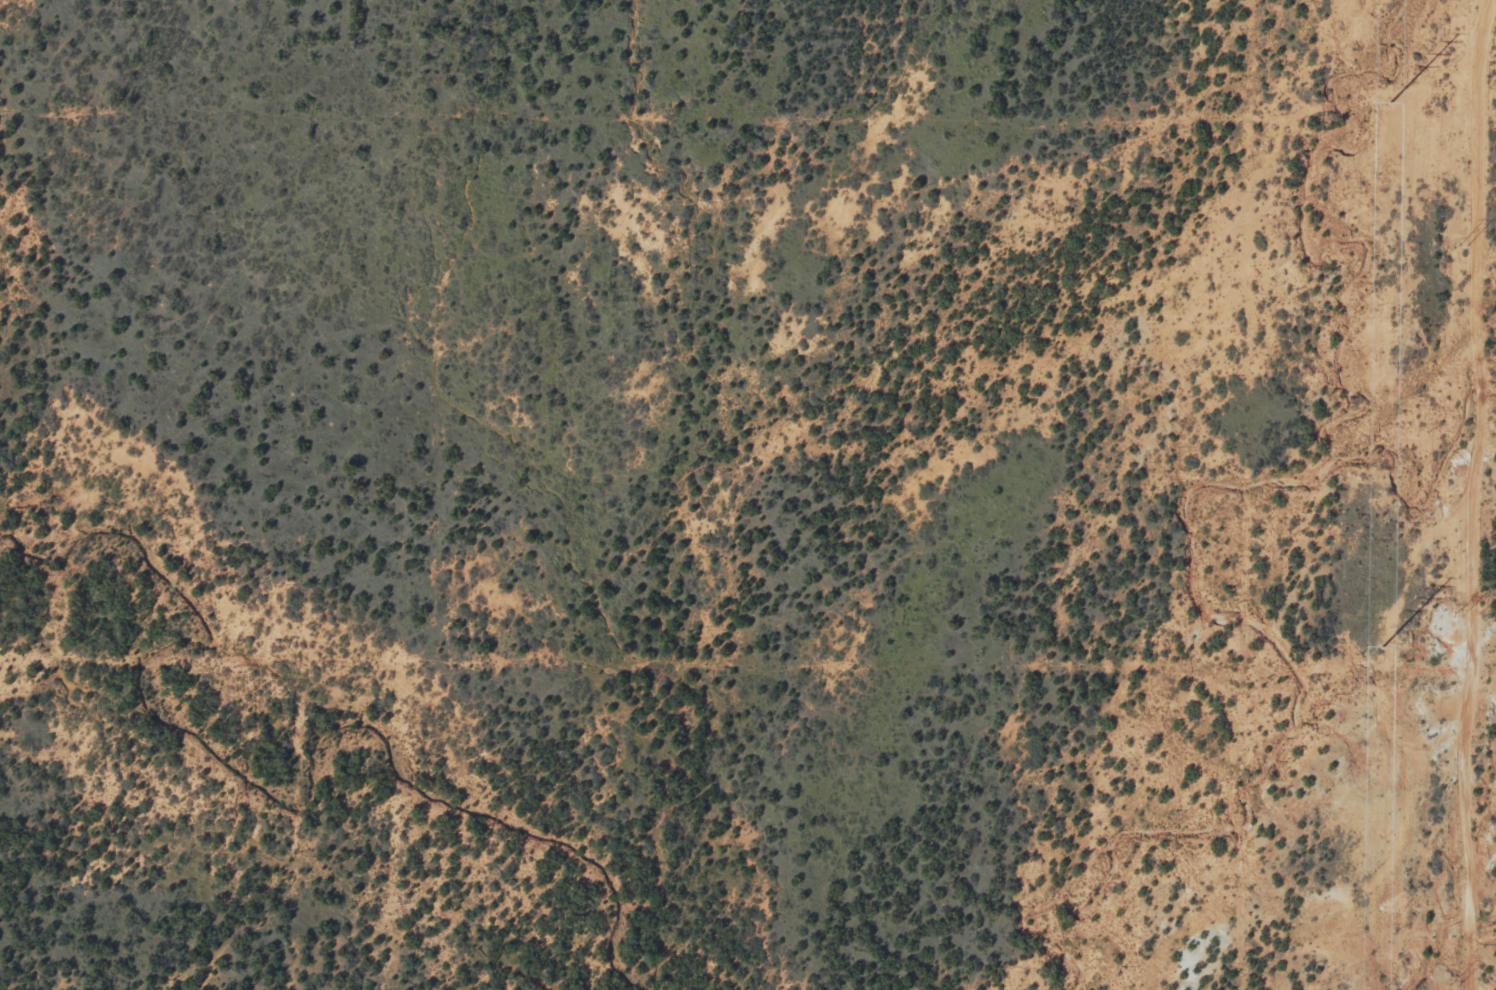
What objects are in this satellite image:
power tower: (1391, 103)
power tower: (1462, 242)
power tower: (1458, 613)
power tower: (1383, 647)
power tower: (1452, 983)

